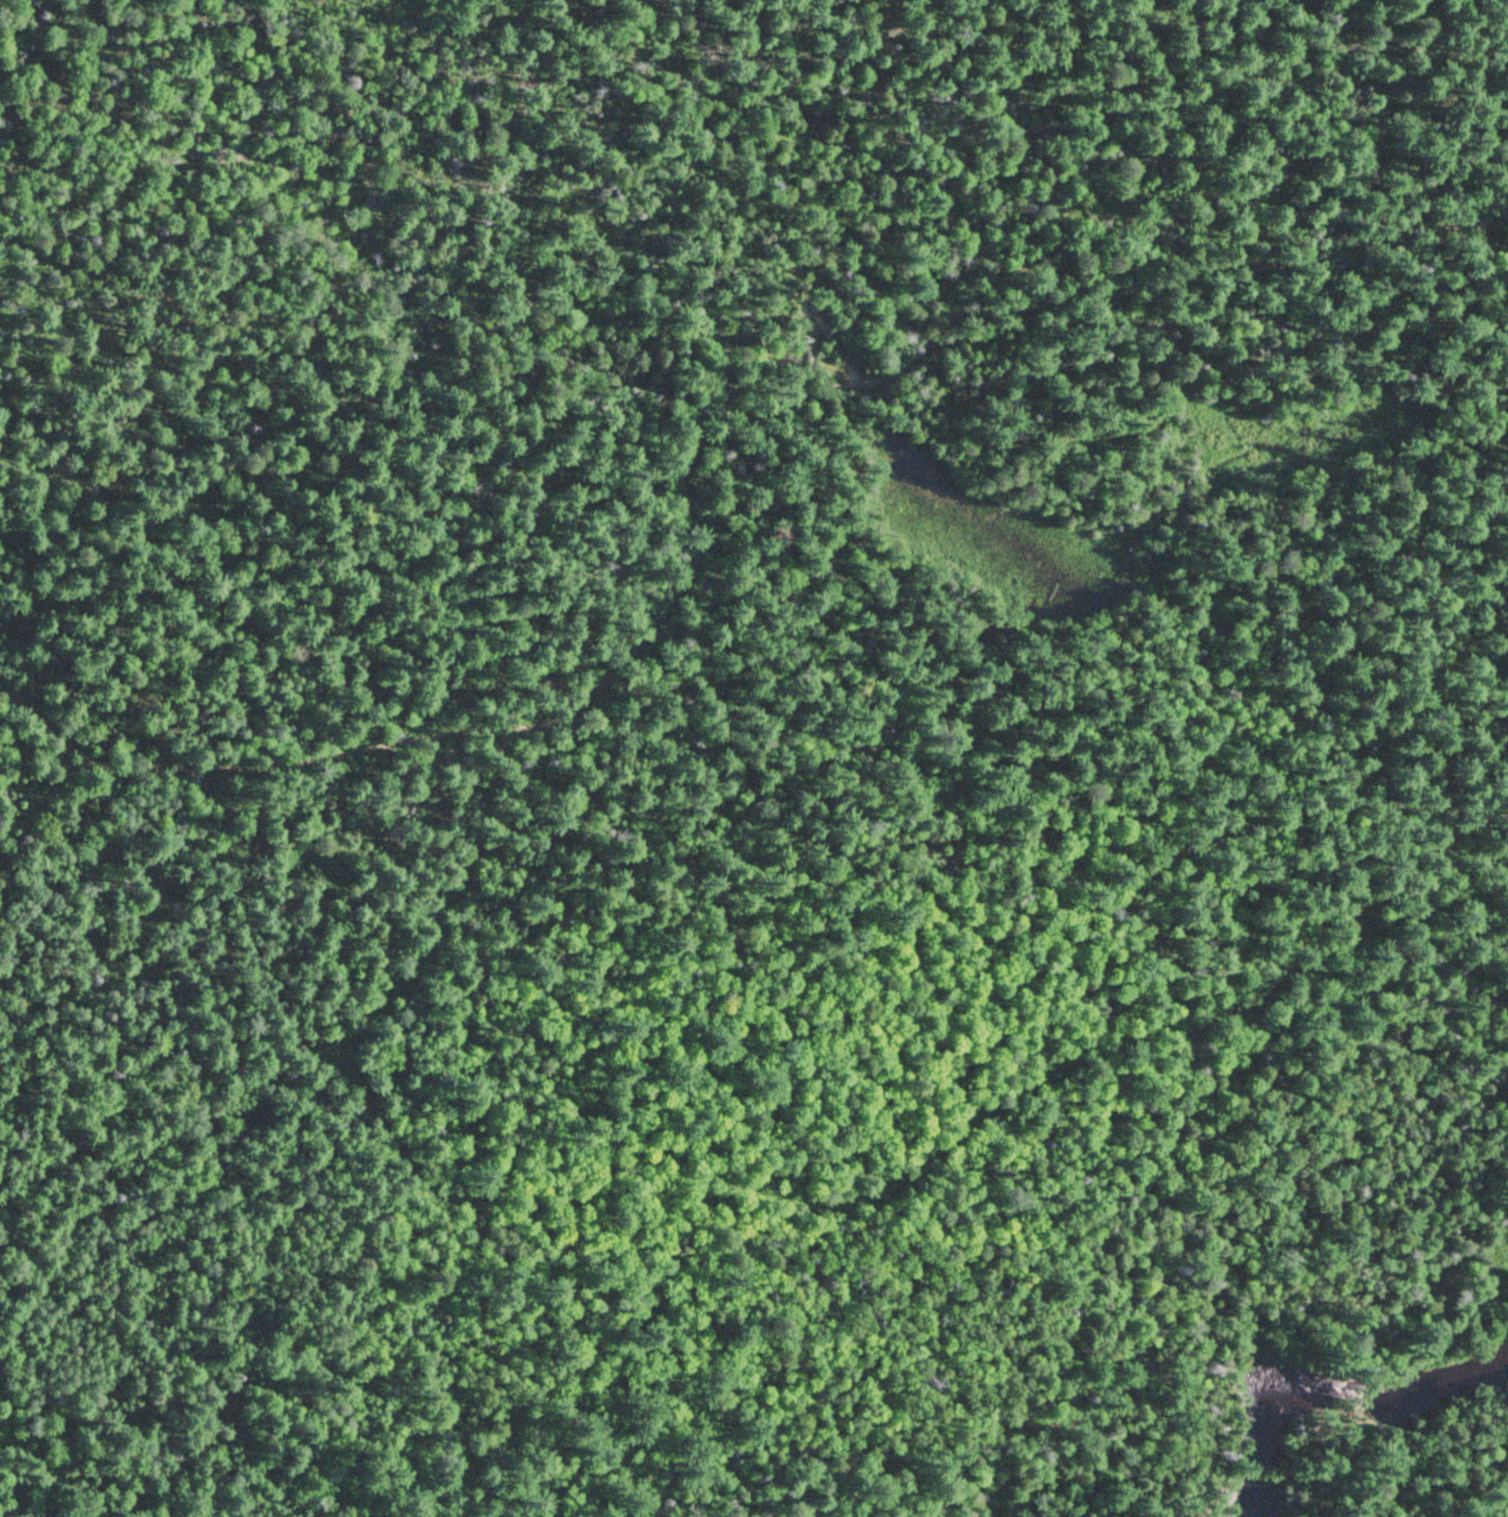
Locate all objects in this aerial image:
river: (1324, 1382)

